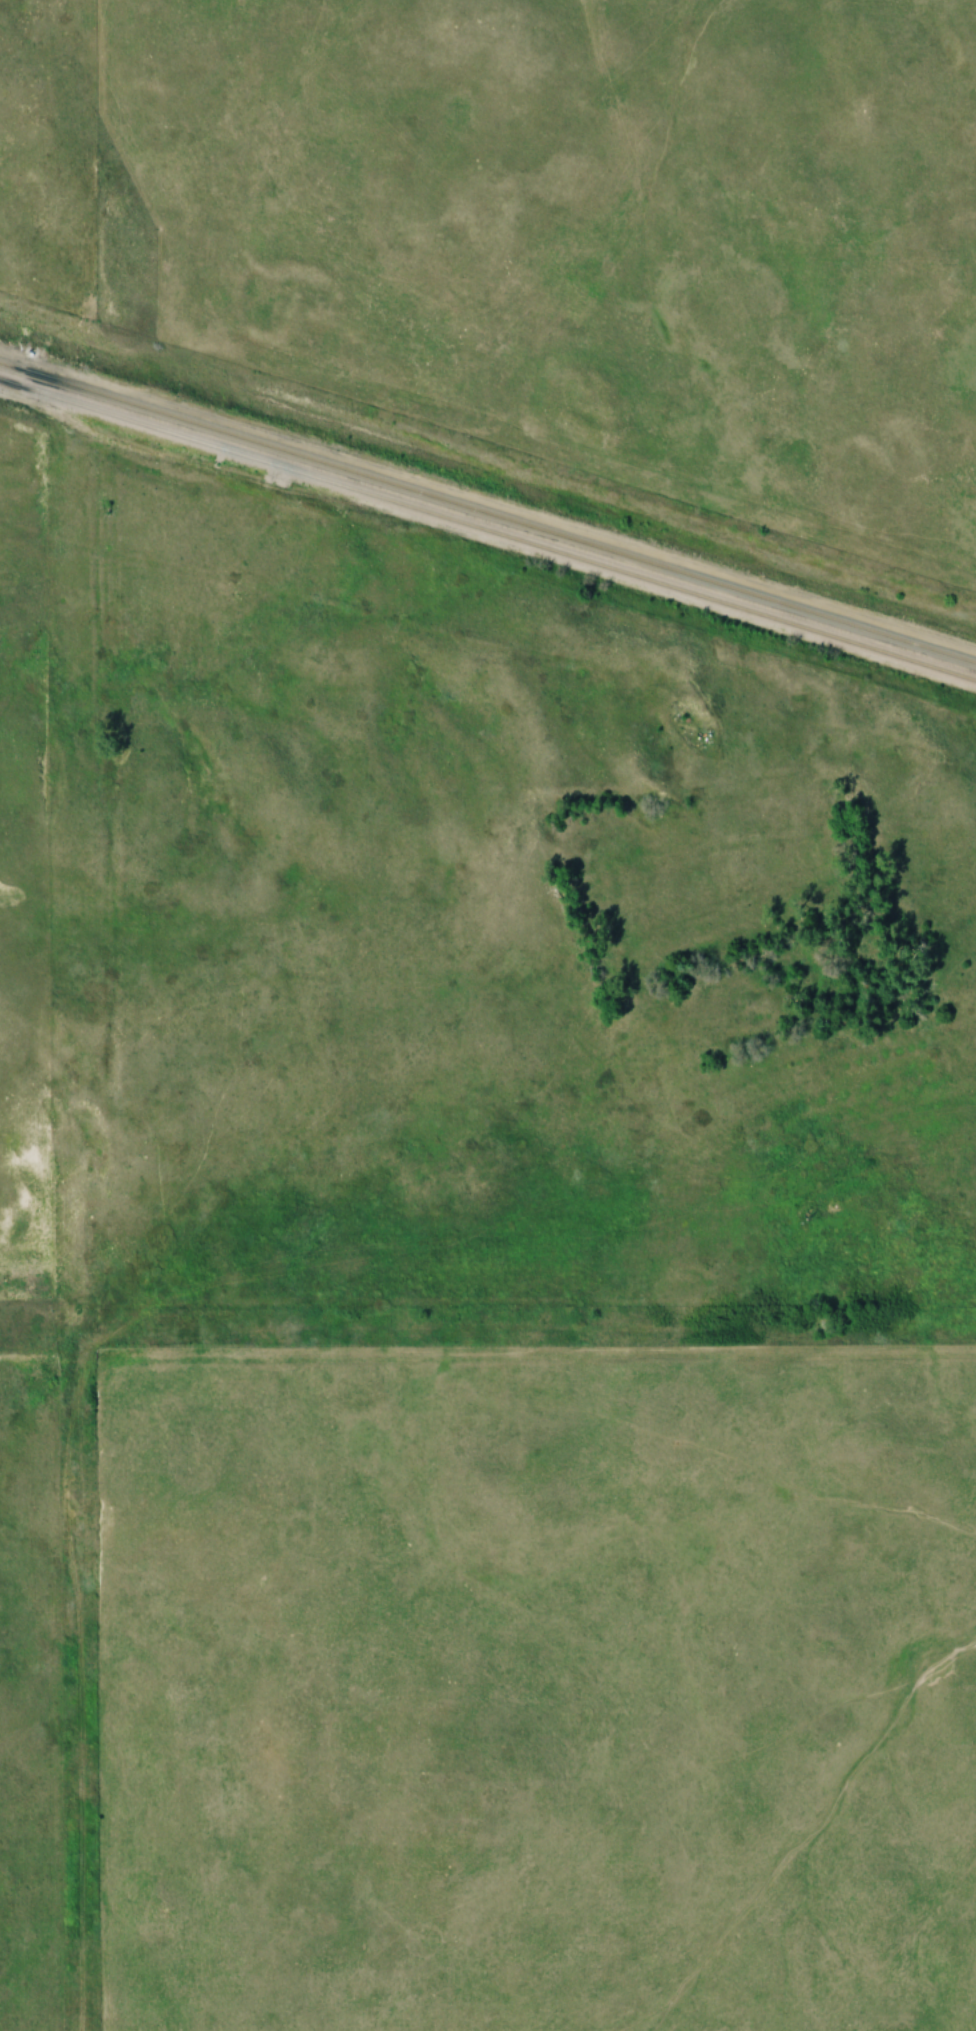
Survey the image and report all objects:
railway: (489, 503)
railway: (488, 525)

